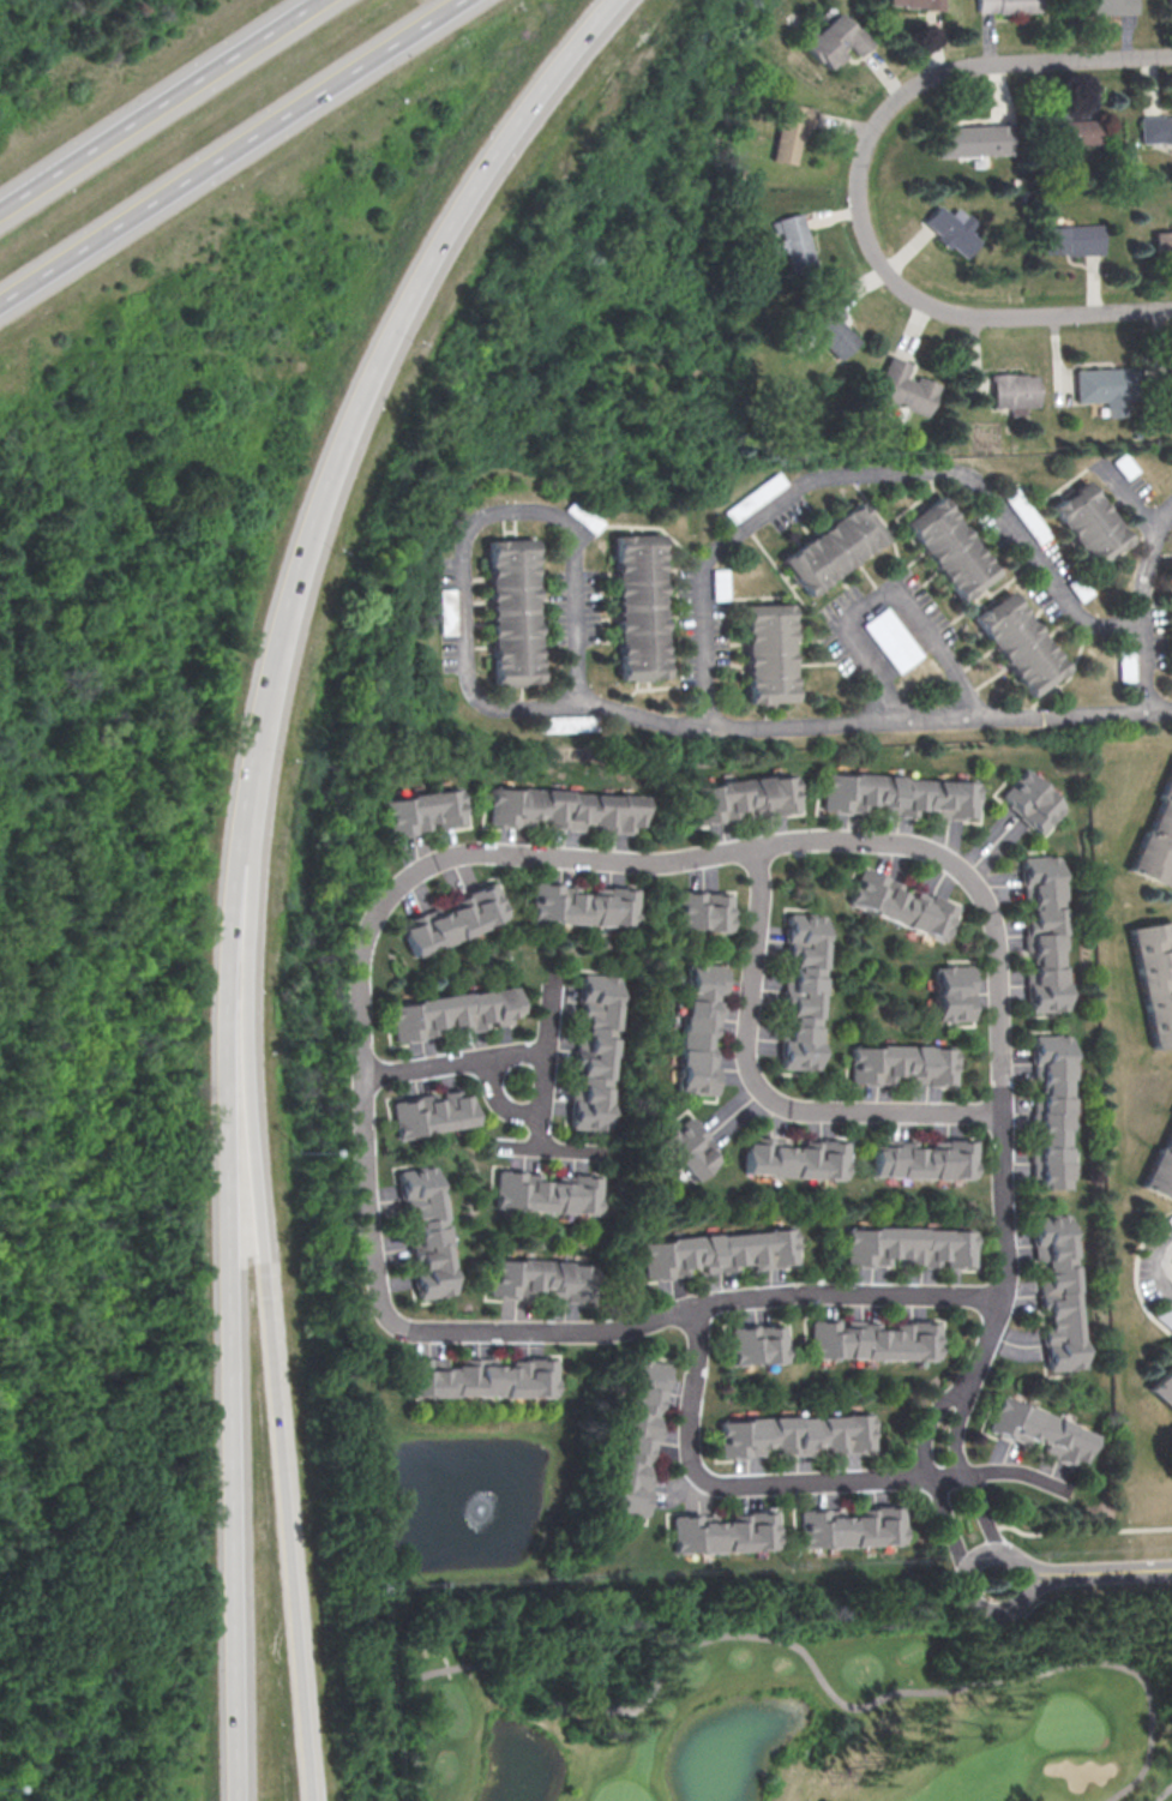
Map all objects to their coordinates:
building: (1170, 1)
building: (919, 2)
building: (1008, 5)
building: (1111, 5)
building: (836, 40)
road: (904, 90)
road: (160, 106)
building: (1156, 127)
building: (791, 128)
building: (1074, 130)
building: (974, 138)
road: (226, 149)
building: (951, 227)
building: (1074, 236)
building: (795, 240)
building: (1161, 241)
road: (1057, 313)
building: (833, 329)
building: (1170, 378)
building: (904, 386)
building: (1107, 386)
building: (1010, 389)
building: (1125, 466)
building: (753, 497)
road: (1130, 504)
building: (583, 516)
building: (1027, 518)
road: (755, 520)
building: (1089, 520)
road: (477, 522)
building: (951, 546)
building: (831, 547)
road: (1148, 565)
road: (1048, 572)
building: (717, 584)
road: (884, 588)
building: (641, 605)
building: (513, 608)
building: (890, 638)
building: (1020, 642)
building: (771, 652)
building: (1125, 665)
road: (1143, 680)
road: (566, 703)
road: (859, 722)
building: (902, 798)
building: (745, 799)
building: (1033, 799)
building: (565, 808)
building: (422, 810)
building: (1155, 840)
road: (236, 854)
road: (411, 876)
building: (902, 901)
building: (583, 902)
building: (702, 911)
building: (452, 919)
building: (1042, 932)
building: (1154, 977)
building: (801, 991)
building: (951, 993)
building: (453, 1013)
building: (698, 1027)
building: (594, 1050)
road: (486, 1058)
building: (903, 1064)
road: (761, 1089)
road: (499, 1100)
road: (541, 1100)
building: (1052, 1110)
building: (429, 1112)
building: (691, 1147)
road: (548, 1151)
building: (799, 1158)
building: (926, 1158)
building: (1160, 1169)
building: (547, 1189)
building: (1170, 1219)
building: (421, 1231)
building: (909, 1248)
building: (717, 1251)
road: (1162, 1273)
building: (542, 1281)
road: (263, 1290)
building: (1059, 1291)
building: (876, 1338)
building: (755, 1343)
building: (474, 1377)
building: (1164, 1386)
building: (1040, 1430)
building: (795, 1434)
building: (639, 1435)
road: (963, 1467)
road: (926, 1469)
road: (999, 1471)
road: (725, 1485)
building: (852, 1525)
road: (1080, 1530)
building: (725, 1531)
road: (1098, 1573)
road: (1023, 1577)
road: (782, 1643)
park: (792, 1697)
road: (1165, 1794)

